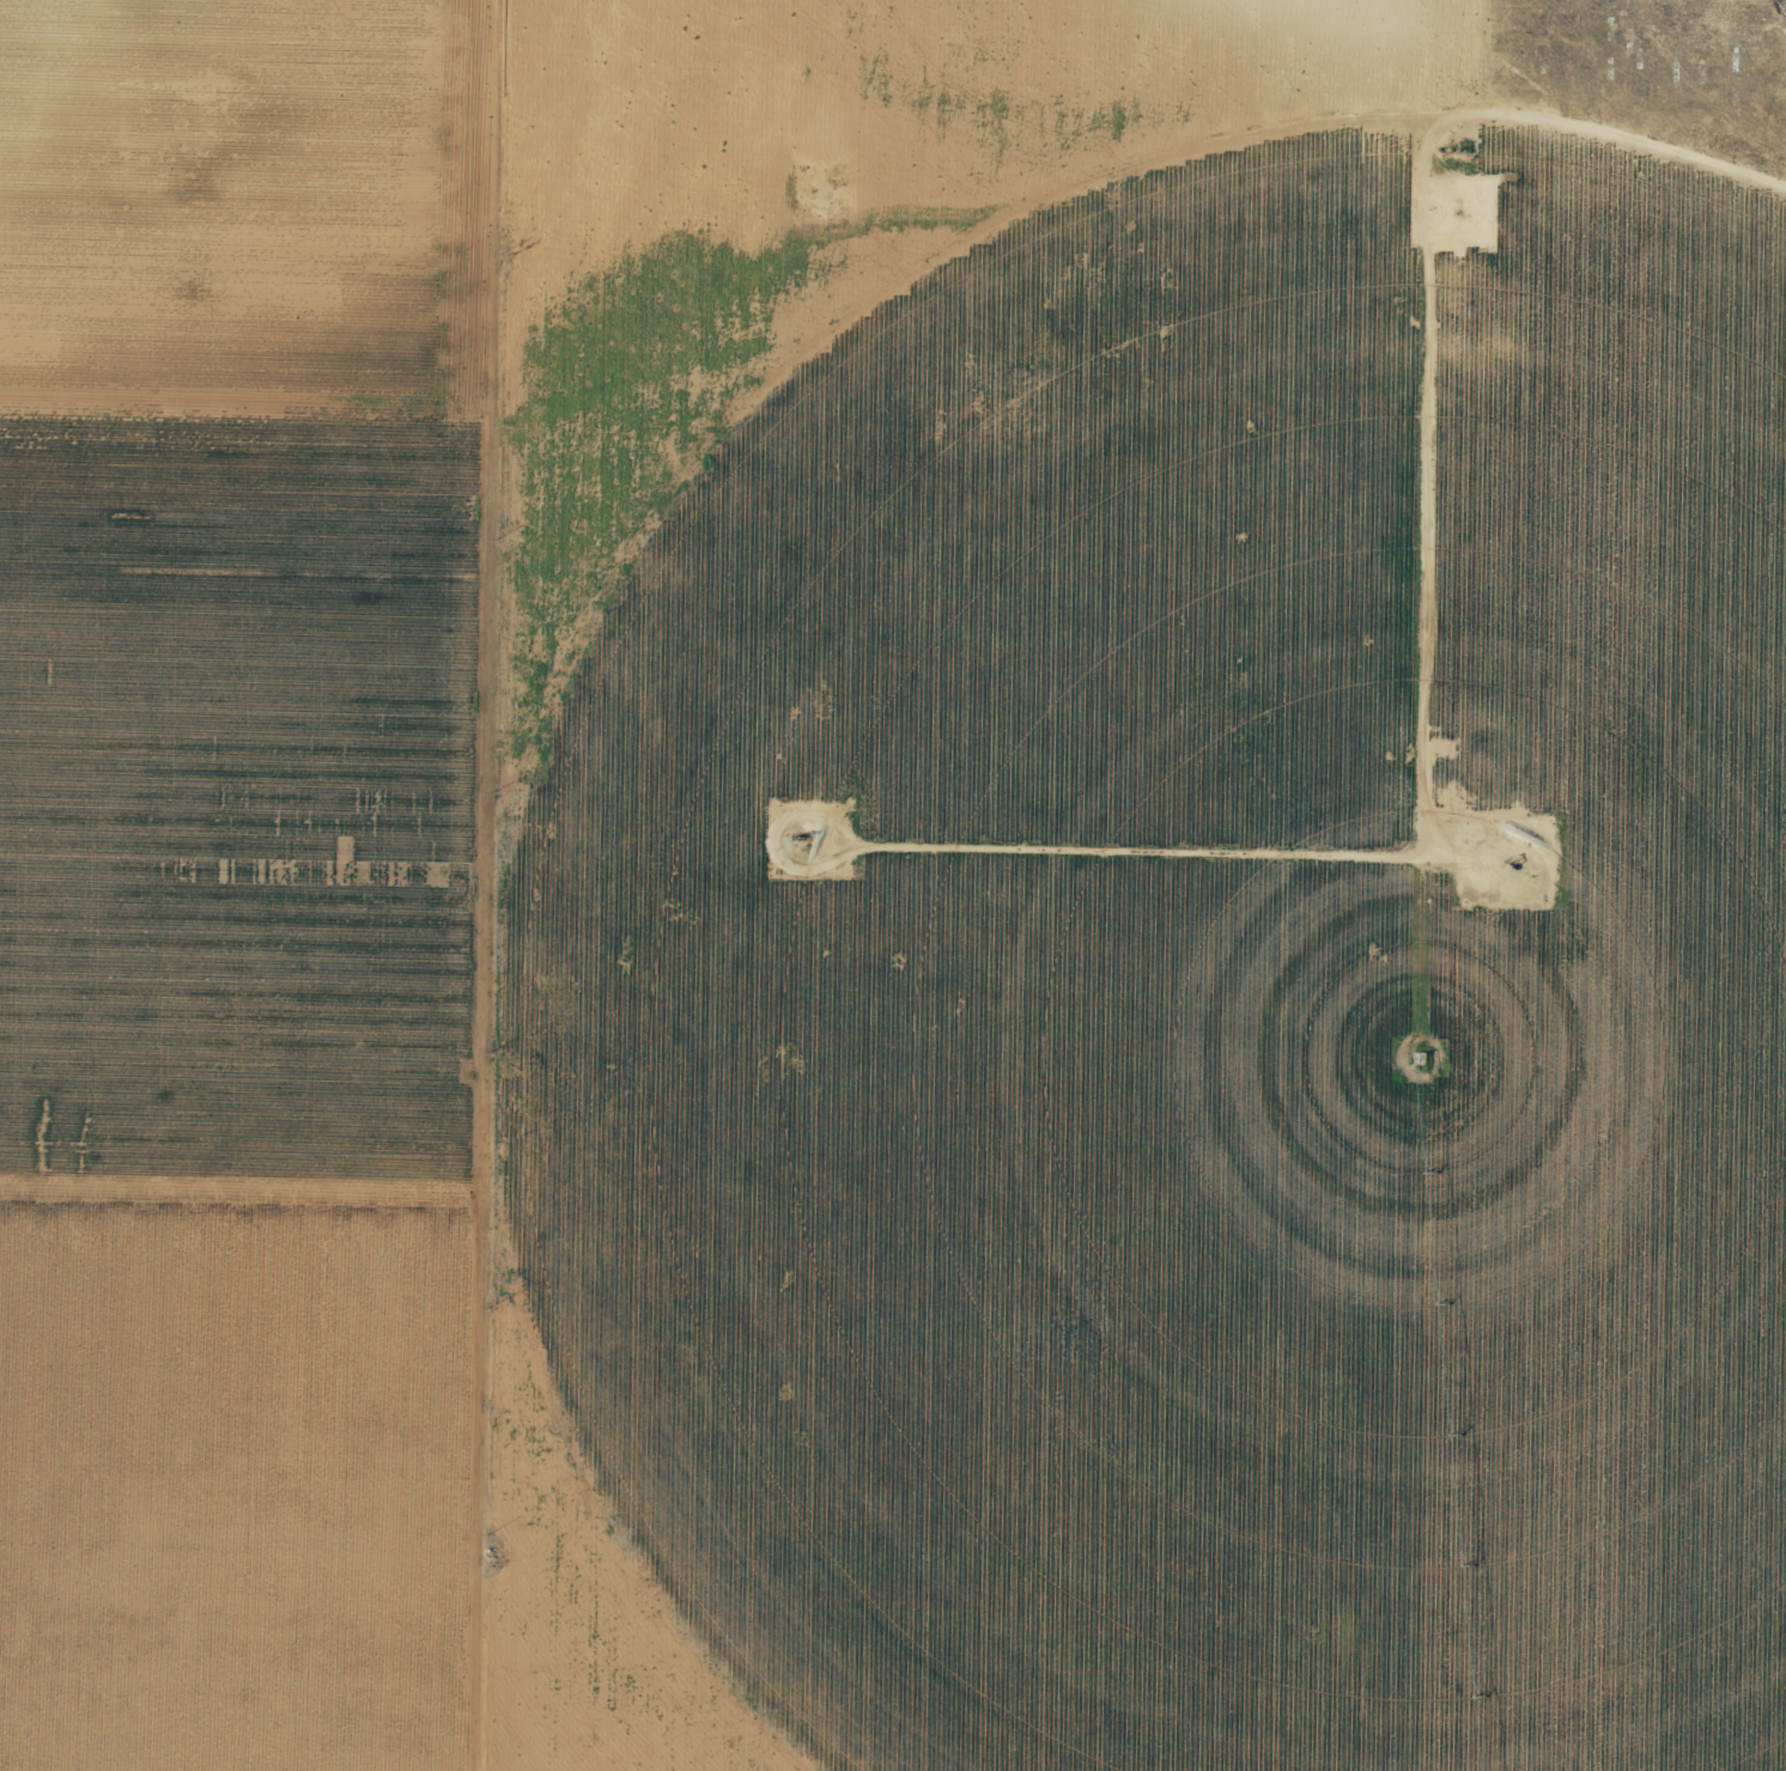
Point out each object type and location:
road: (249, 456)
road: (491, 885)

